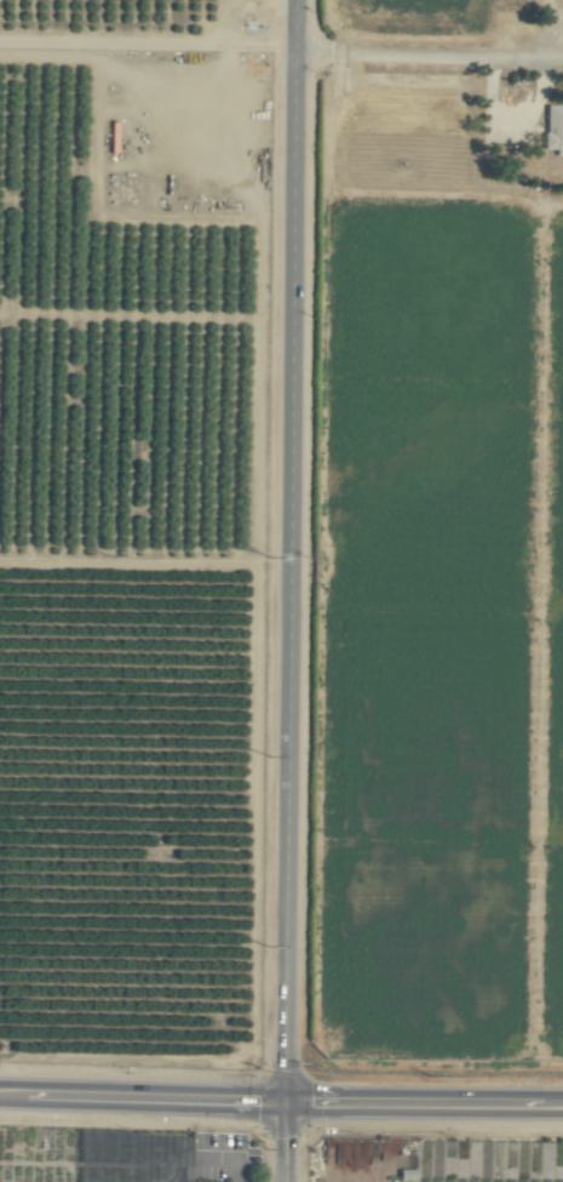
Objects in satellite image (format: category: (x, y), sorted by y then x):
road: (427, 50)
building: (552, 129)
road: (287, 549)
crop: (281, 590)
road: (140, 1095)
road: (421, 1101)
road: (280, 1141)
crop: (278, 1150)

